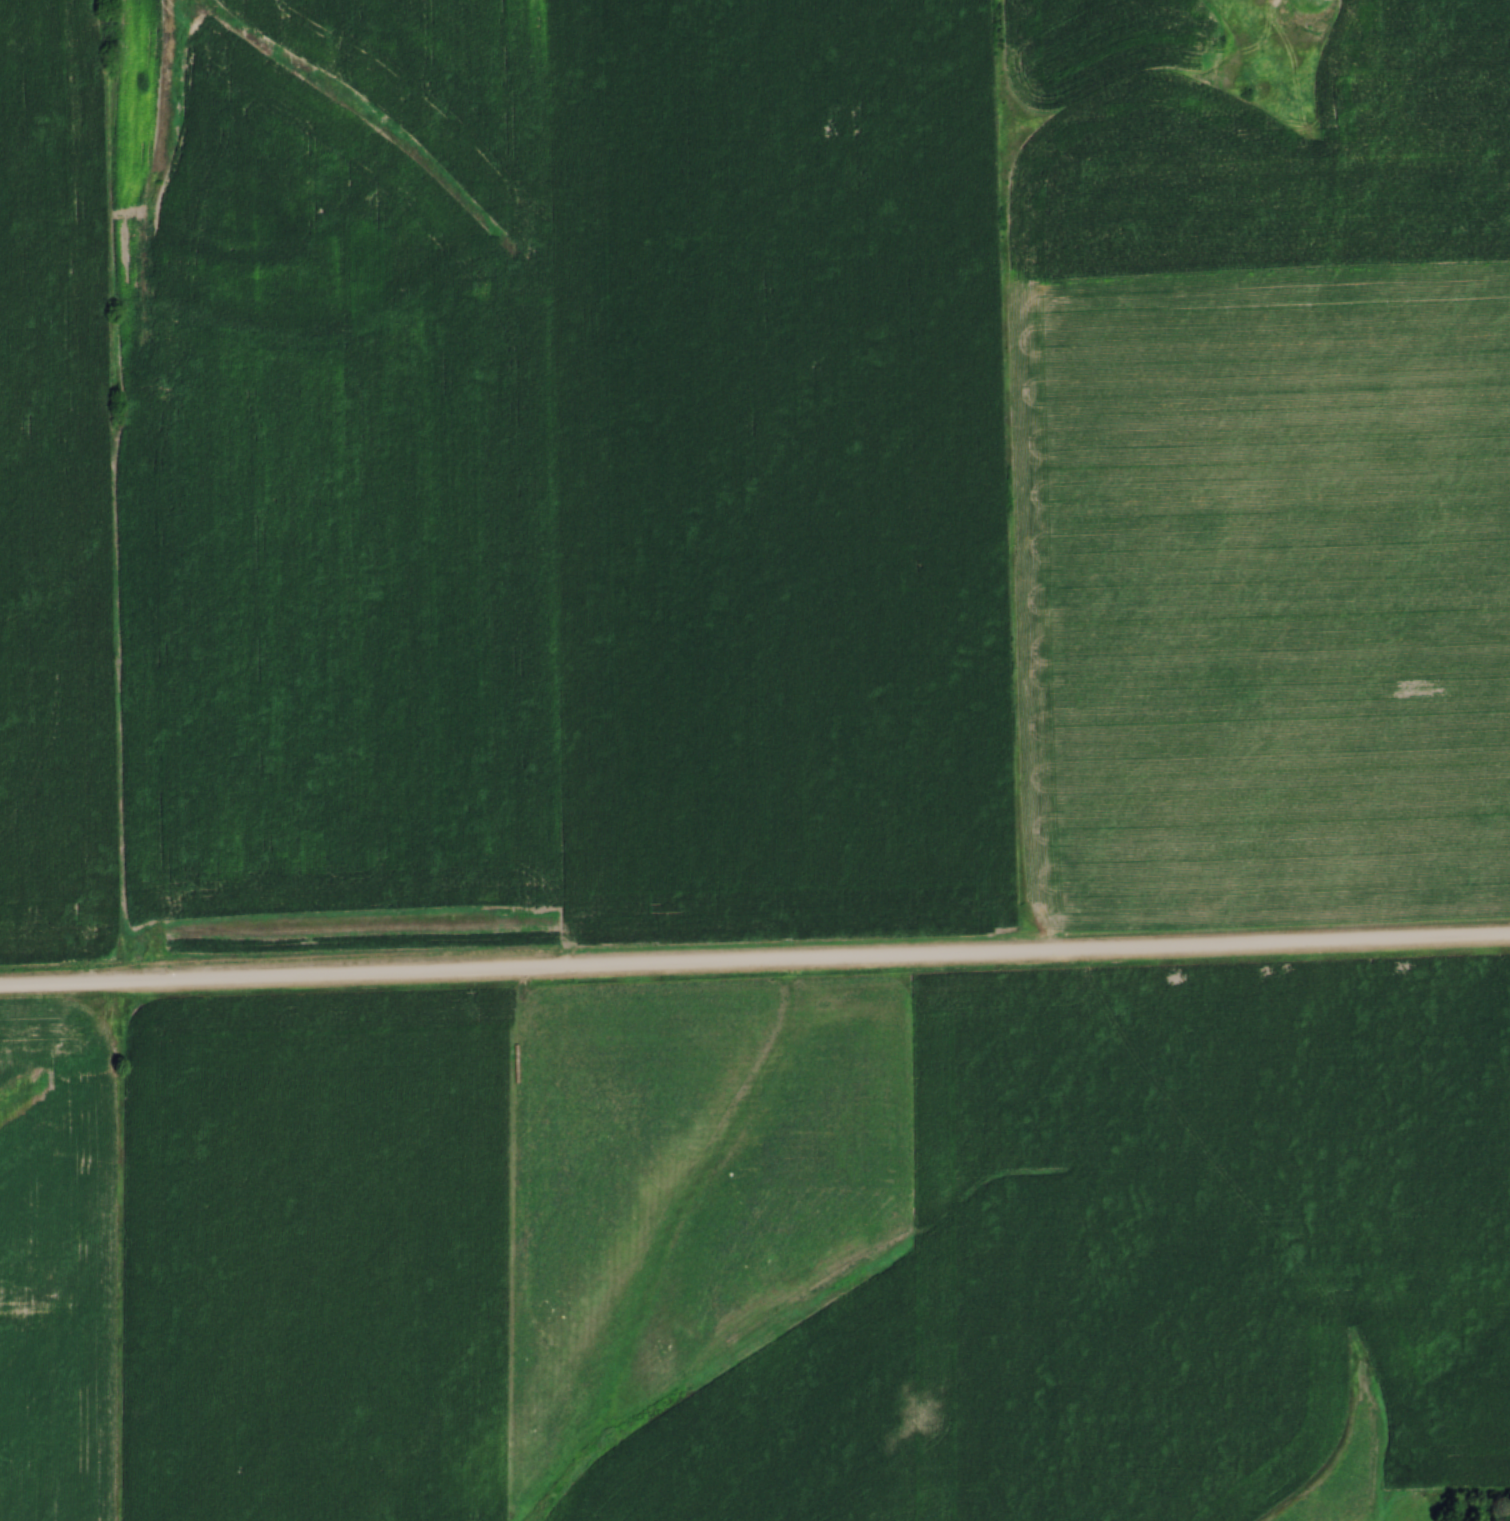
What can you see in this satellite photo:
road: (755, 958)

